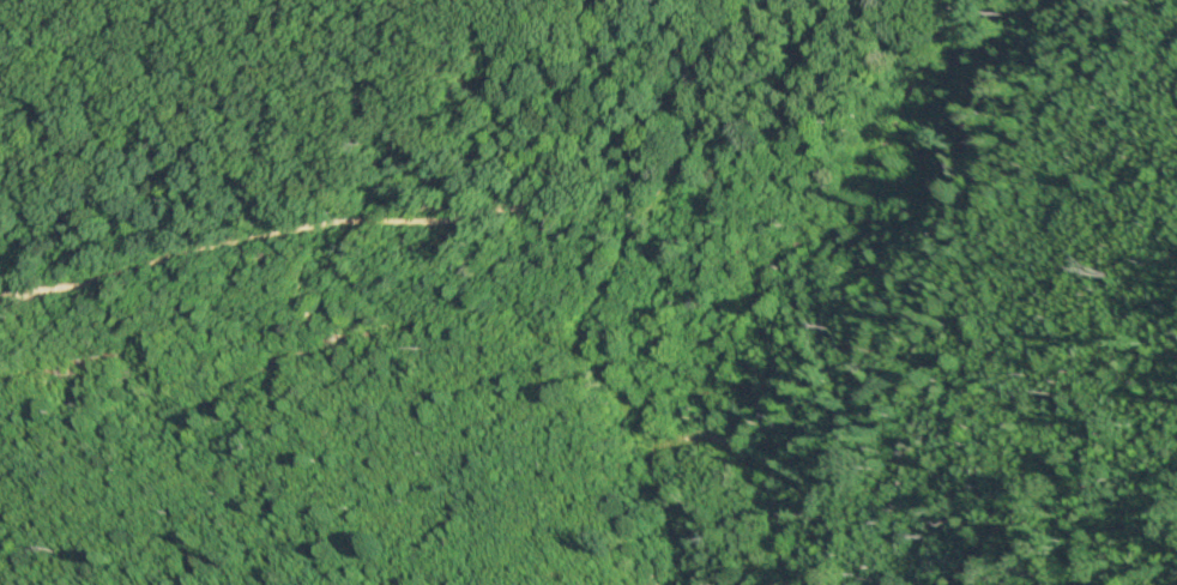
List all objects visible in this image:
road: (396, 205)

